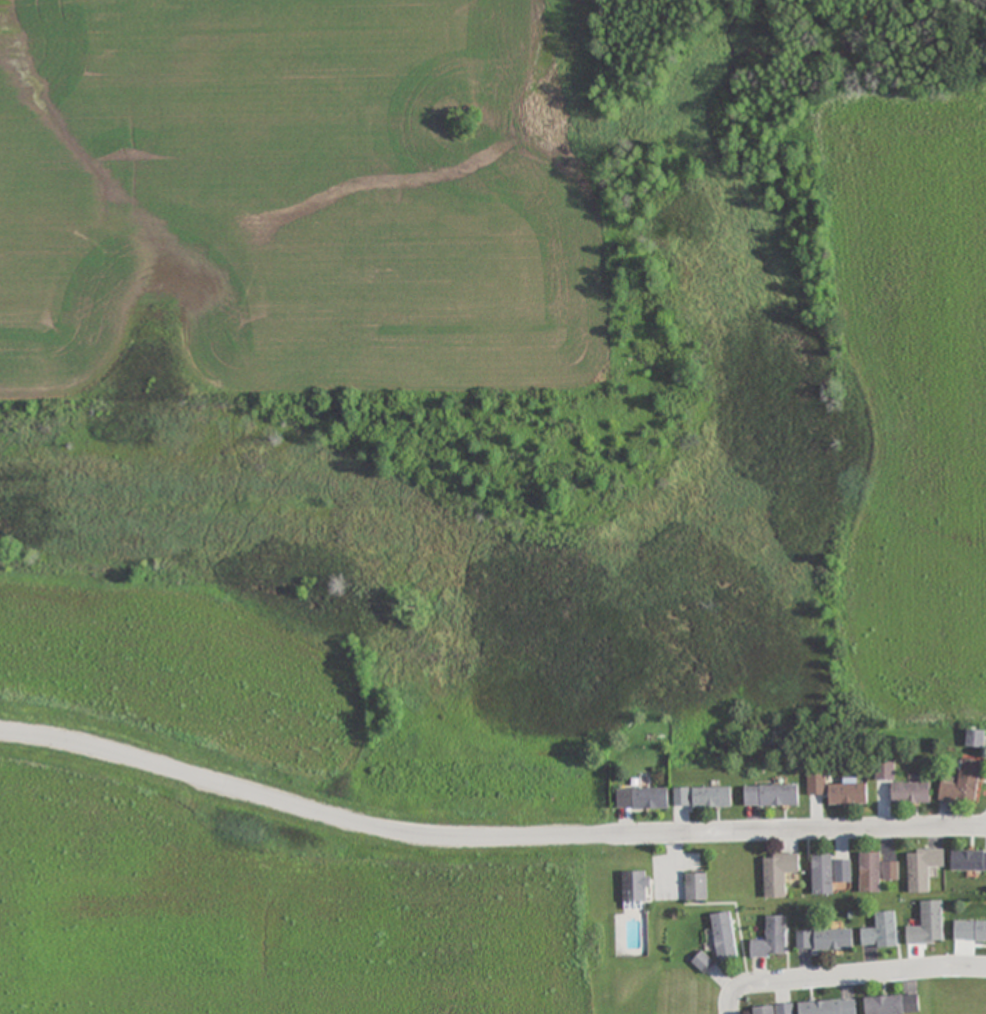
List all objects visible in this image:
road: (963, 134)
road: (950, 277)
park: (683, 313)
road: (930, 346)
road: (967, 419)
road: (948, 589)
building: (974, 738)
building: (885, 770)
building: (817, 782)
building: (963, 783)
building: (910, 793)
building: (848, 794)
building: (772, 795)
building: (682, 797)
building: (712, 797)
building: (642, 799)
road: (486, 836)
building: (968, 860)
building: (923, 868)
building: (876, 871)
building: (779, 873)
building: (828, 873)
building: (696, 886)
building: (635, 887)
building: (927, 924)
building: (881, 931)
building: (970, 931)
building: (724, 936)
building: (771, 938)
building: (824, 939)
building: (703, 962)
road: (847, 976)
building: (892, 1004)
building: (828, 1007)
building: (775, 1009)

